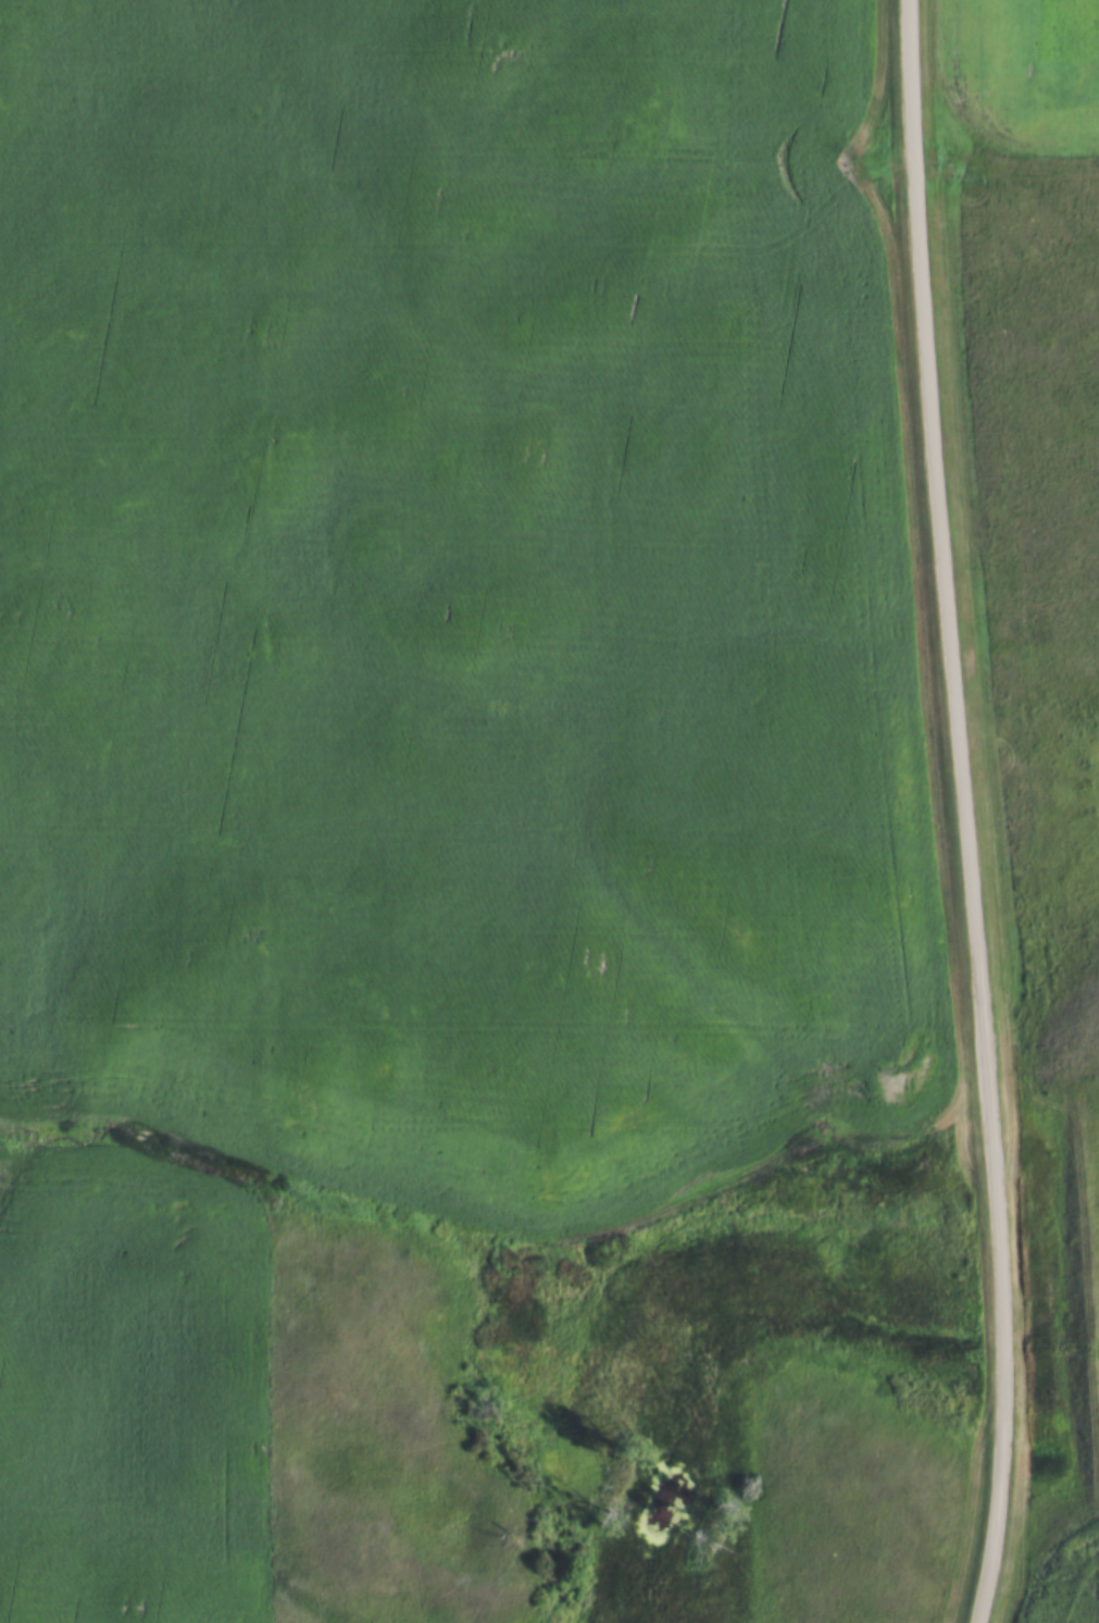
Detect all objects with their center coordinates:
road: (964, 811)

